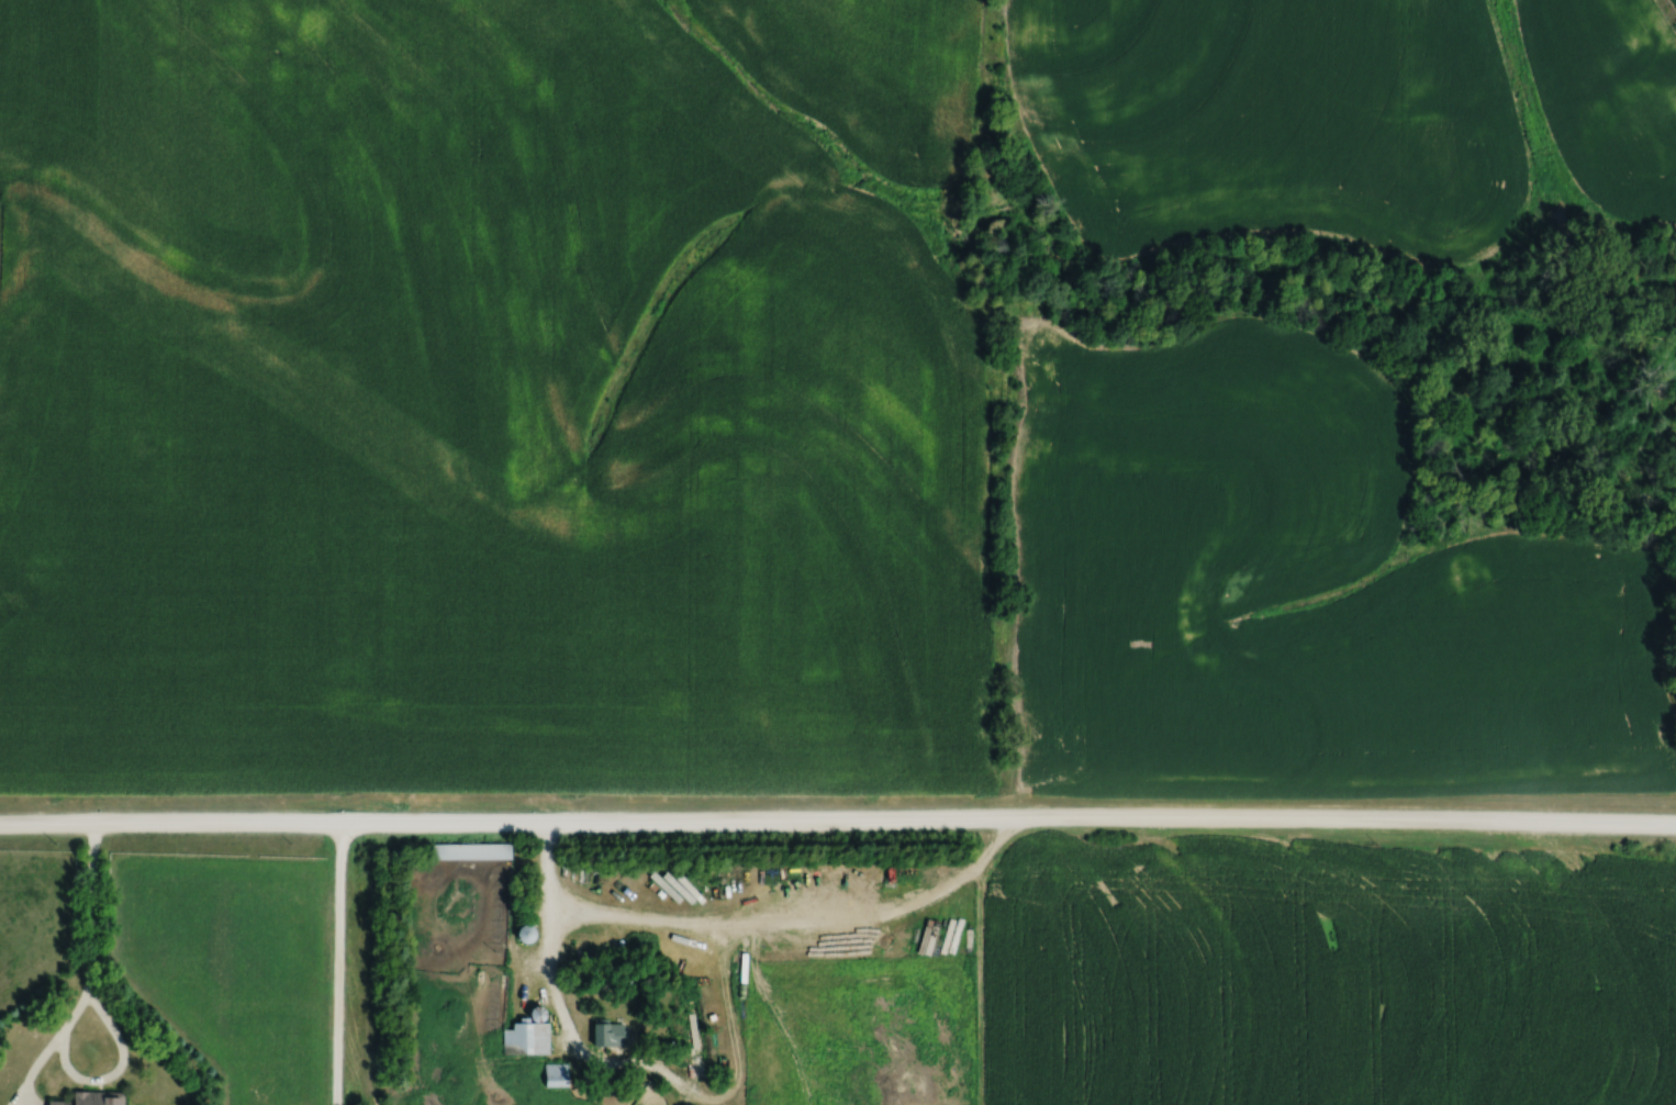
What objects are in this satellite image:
road: (838, 824)
building: (471, 851)
road: (93, 911)
road: (797, 924)
building: (523, 931)
road: (552, 941)
road: (340, 967)
building: (526, 1033)
building: (608, 1034)
road: (69, 1067)
building: (554, 1073)
building: (90, 1098)

